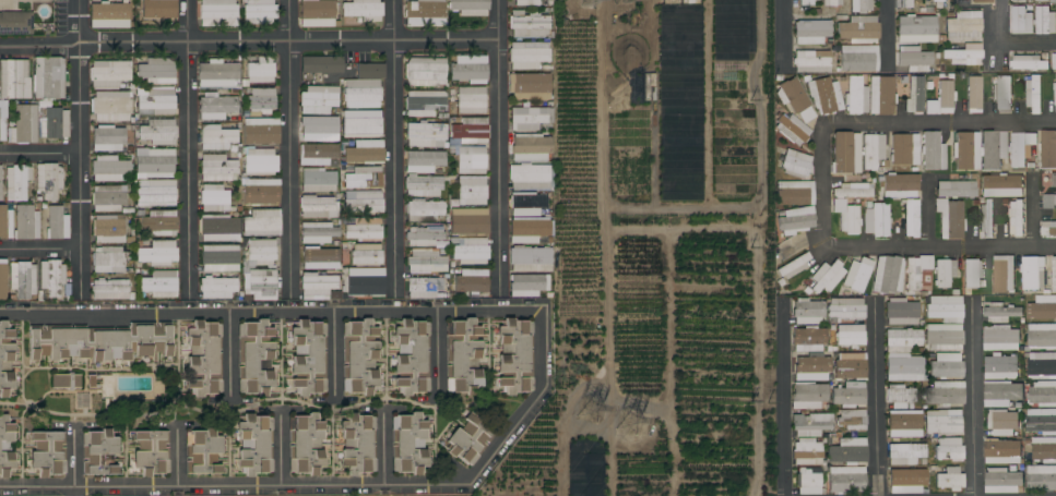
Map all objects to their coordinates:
power tower: (633, 0)
building: (939, 0)
building: (961, 0)
building: (1028, 0)
building: (1043, 0)
building: (689, 1)
building: (982, 1)
building: (1019, 1)
building: (526, 2)
building: (671, 2)
building: (806, 2)
building: (831, 2)
building: (905, 3)
building: (861, 5)
building: (468, 7)
building: (363, 9)
building: (156, 10)
building: (259, 11)
building: (425, 12)
building: (110, 13)
building: (217, 13)
building: (317, 13)
building: (1045, 20)
building: (1021, 21)
road: (1000, 22)
building: (15, 23)
building: (527, 24)
building: (963, 24)
building: (915, 28)
building: (733, 29)
building: (858, 29)
building: (810, 32)
road: (887, 35)
road: (782, 36)
road: (249, 40)
road: (1029, 43)
building: (527, 55)
building: (964, 55)
building: (858, 58)
building: (913, 58)
building: (811, 61)
building: (1054, 61)
building: (1029, 62)
building: (321, 64)
building: (468, 69)
building: (367, 70)
building: (156, 71)
building: (259, 71)
building: (425, 72)
building: (109, 73)
building: (217, 74)
building: (14, 80)
building: (529, 86)
building: (1001, 92)
building: (360, 93)
building: (1032, 93)
building: (1055, 94)
building: (792, 95)
building: (823, 95)
building: (881, 95)
building: (915, 95)
building: (973, 95)
building: (50, 96)
building: (856, 96)
building: (261, 99)
building: (318, 99)
building: (941, 99)
building: (471, 100)
building: (154, 101)
building: (424, 102)
building: (680, 102)
building: (1, 104)
building: (532, 104)
building: (110, 106)
building: (215, 106)
building: (806, 114)
building: (441, 116)
building: (529, 118)
road: (942, 122)
building: (24, 123)
building: (360, 123)
building: (2, 129)
building: (318, 129)
building: (792, 129)
building: (260, 131)
building: (470, 131)
building: (157, 132)
building: (425, 134)
building: (216, 137)
building: (107, 138)
road: (288, 146)
road: (393, 146)
road: (498, 146)
road: (80, 147)
road: (188, 147)
building: (530, 147)
building: (1020, 147)
building: (1047, 148)
building: (904, 149)
building: (994, 149)
building: (873, 150)
building: (933, 150)
building: (966, 150)
road: (39, 153)
building: (361, 153)
building: (845, 153)
building: (317, 154)
building: (124, 155)
building: (131, 156)
building: (468, 159)
building: (258, 160)
building: (423, 161)
building: (155, 162)
building: (795, 164)
building: (886, 164)
building: (1030, 165)
building: (218, 167)
building: (108, 168)
building: (880, 169)
building: (529, 176)
building: (972, 177)
building: (364, 178)
building: (48, 180)
building: (1054, 180)
building: (0, 181)
building: (319, 181)
building: (16, 182)
building: (423, 185)
building: (899, 185)
building: (1000, 185)
road: (822, 187)
building: (956, 189)
building: (470, 190)
building: (853, 190)
building: (260, 191)
building: (155, 193)
building: (794, 193)
building: (107, 197)
building: (38, 198)
building: (214, 198)
building: (31, 199)
building: (1048, 201)
building: (363, 202)
building: (526, 203)
building: (868, 204)
building: (43, 205)
road: (681, 205)
building: (318, 207)
building: (423, 209)
road: (1032, 209)
building: (127, 210)
road: (928, 210)
building: (140, 213)
building: (846, 216)
building: (985, 217)
building: (1016, 217)
building: (950, 218)
building: (877, 219)
building: (912, 219)
building: (795, 220)
building: (5, 221)
building: (467, 221)
building: (25, 222)
building: (261, 222)
building: (57, 223)
building: (158, 223)
building: (108, 228)
building: (218, 228)
building: (1048, 228)
building: (364, 229)
building: (529, 230)
building: (317, 232)
building: (424, 235)
building: (130, 240)
building: (453, 240)
building: (546, 243)
road: (944, 247)
road: (39, 250)
building: (472, 251)
building: (260, 252)
building: (158, 253)
building: (366, 255)
building: (218, 257)
building: (319, 258)
building: (529, 258)
building: (109, 259)
building: (425, 262)
building: (794, 266)
building: (916, 270)
building: (944, 271)
building: (971, 273)
building: (1032, 273)
building: (857, 274)
building: (887, 275)
building: (1002, 275)
building: (1054, 275)
building: (827, 276)
building: (50, 277)
building: (2, 279)
building: (22, 279)
building: (261, 280)
building: (471, 281)
building: (365, 282)
building: (781, 282)
building: (159, 283)
building: (982, 283)
building: (319, 285)
building: (526, 285)
building: (424, 286)
building: (217, 287)
building: (67, 289)
building: (109, 289)
building: (807, 291)
building: (954, 291)
building: (966, 291)
building: (240, 293)
building: (131, 295)
building: (256, 295)
building: (11, 297)
building: (247, 297)
building: (237, 298)
building: (1042, 307)
building: (945, 309)
building: (844, 310)
road: (272, 311)
building: (807, 311)
building: (901, 312)
building: (1000, 313)
building: (850, 335)
building: (944, 337)
building: (1041, 337)
building: (1000, 338)
building: (808, 339)
building: (902, 340)
building: (99, 341)
road: (437, 351)
road: (332, 353)
road: (228, 354)
building: (359, 356)
building: (412, 356)
building: (462, 356)
building: (514, 356)
building: (204, 358)
building: (254, 358)
building: (308, 358)
building: (5, 359)
building: (286, 363)
building: (946, 365)
building: (1041, 365)
building: (850, 366)
building: (1000, 366)
building: (812, 367)
building: (905, 368)
building: (66, 380)
building: (91, 382)
building: (945, 394)
building: (1000, 394)
building: (1042, 394)
building: (808, 395)
building: (850, 395)
road: (875, 396)
building: (900, 396)
road: (782, 397)
road: (972, 397)
building: (1018, 406)
power tower: (590, 409)
building: (852, 419)
building: (1041, 421)
building: (942, 422)
building: (1001, 422)
power tower: (628, 423)
building: (811, 423)
building: (904, 423)
building: (468, 439)
building: (923, 439)
building: (933, 439)
building: (358, 444)
building: (408, 444)
building: (254, 445)
road: (280, 445)
building: (306, 445)
road: (384, 445)
building: (5, 446)
building: (949, 449)
building: (1044, 449)
building: (1000, 450)
building: (202, 451)
building: (847, 451)
building: (48, 452)
building: (99, 452)
building: (151, 452)
road: (177, 452)
building: (807, 452)
building: (905, 453)
road: (74, 455)
building: (922, 461)
building: (1020, 461)
building: (925, 467)
building: (936, 468)
building: (1041, 477)
building: (949, 479)
road: (331, 480)
building: (808, 480)
building: (845, 480)
building: (909, 481)
building: (1002, 481)
road: (74, 489)

